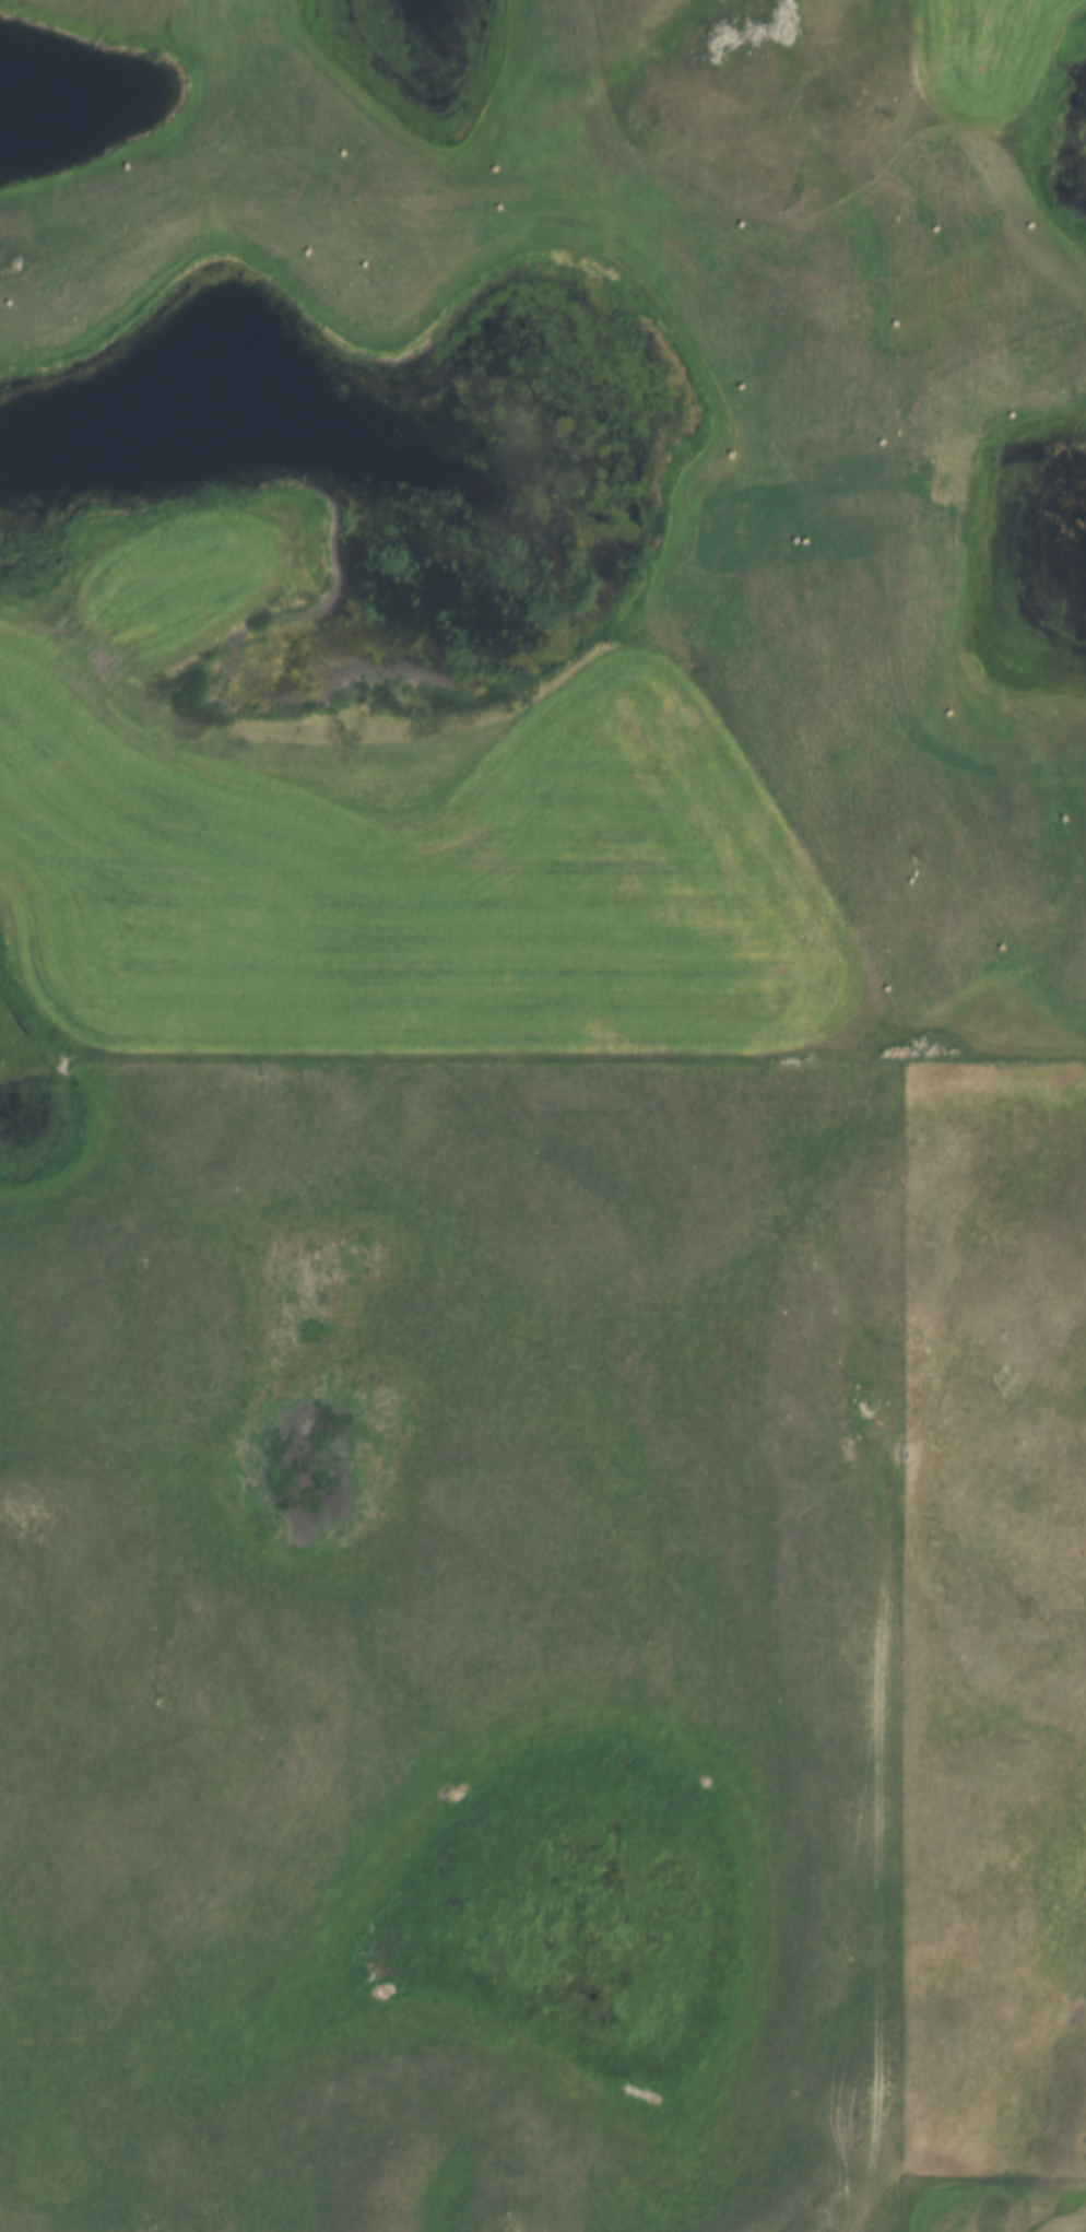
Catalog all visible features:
building: (32, 2095)

